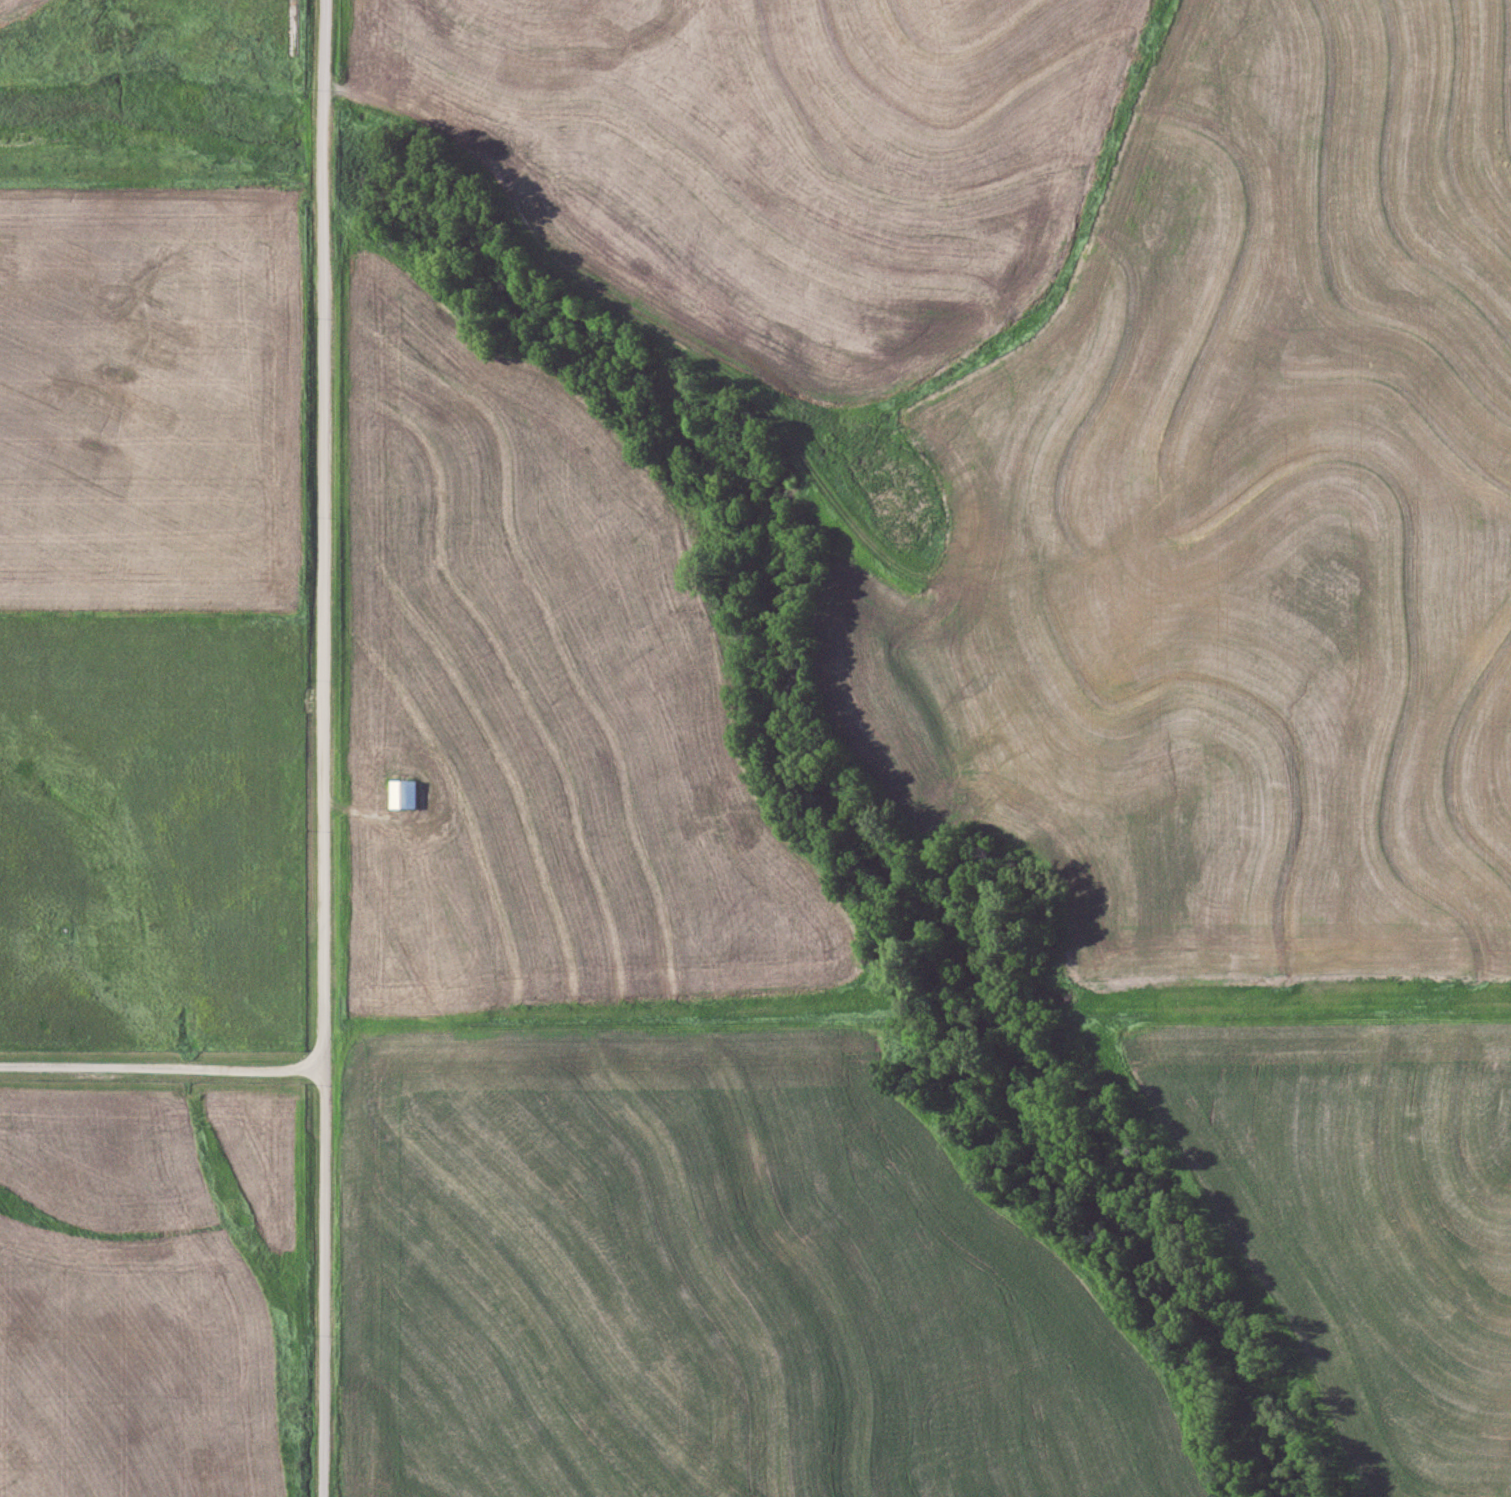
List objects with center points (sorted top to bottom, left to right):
road: (323, 748)
building: (403, 790)
road: (159, 1070)

